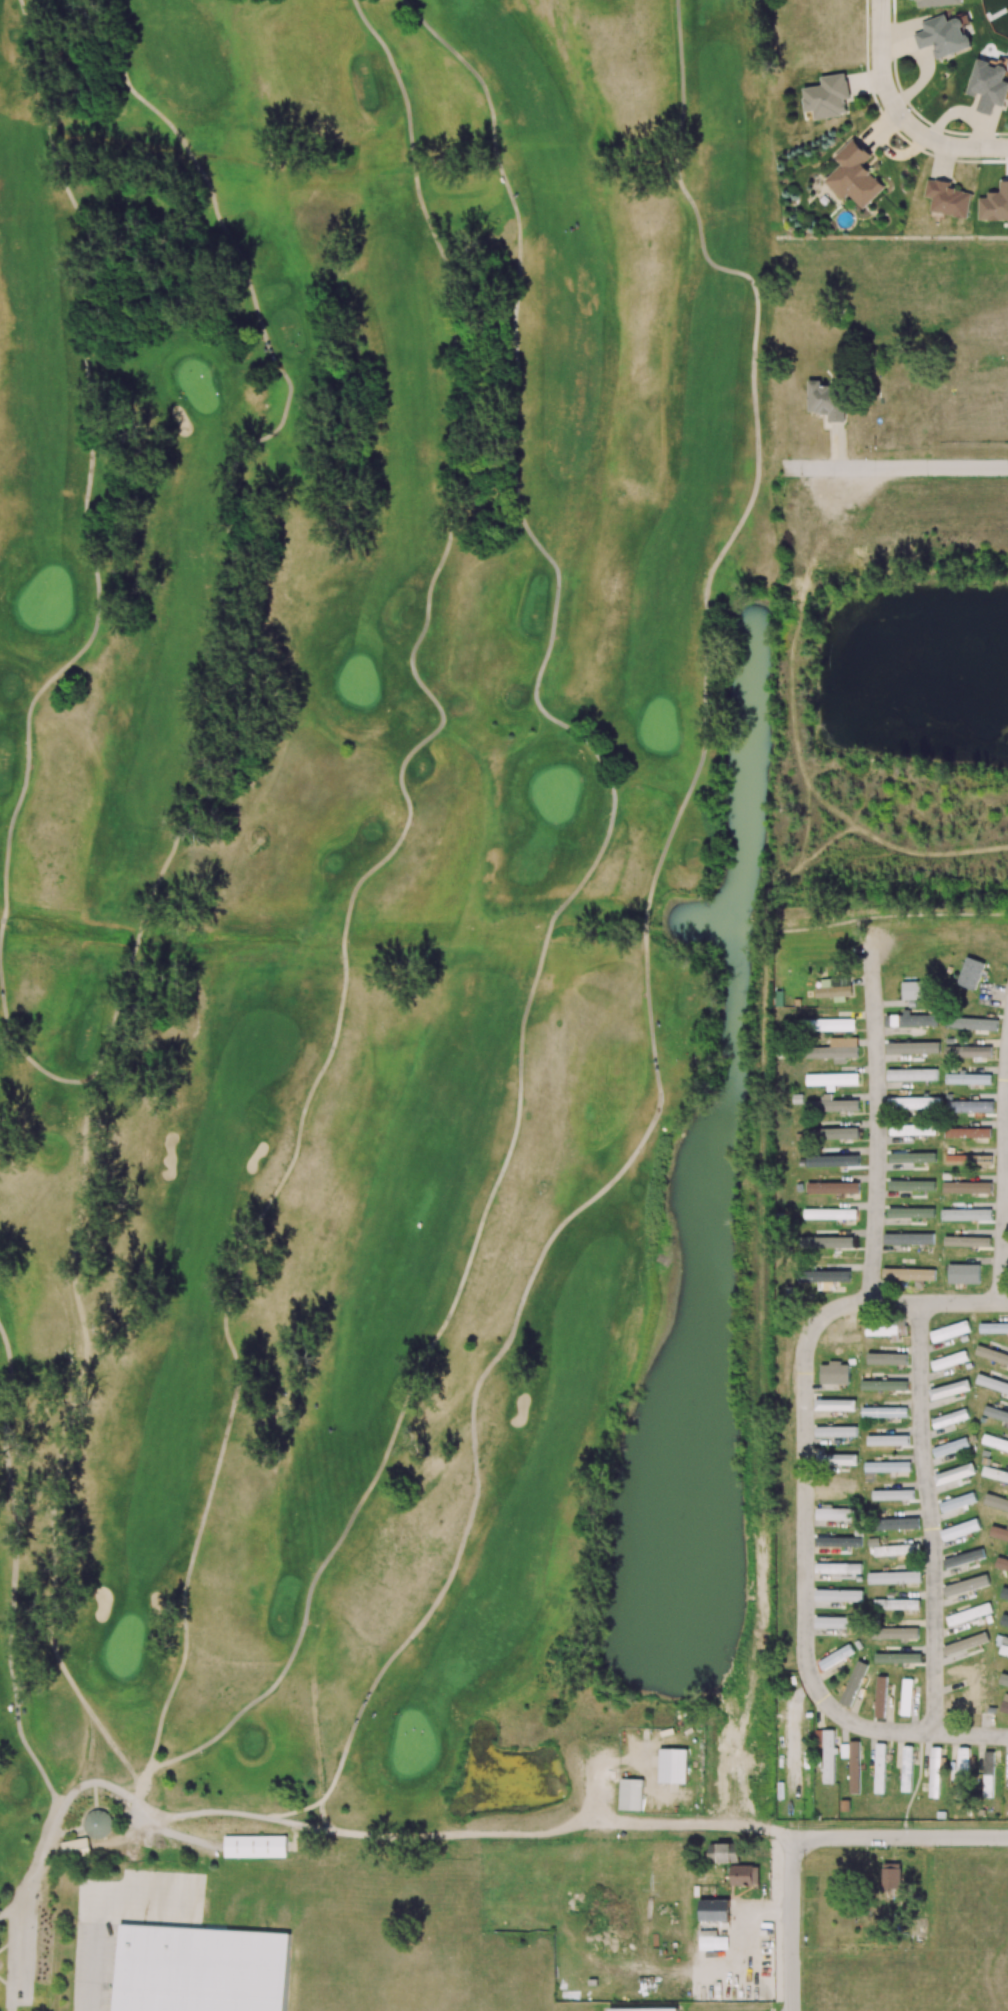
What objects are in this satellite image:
road: (900, 113)
road: (894, 467)
road: (89, 476)
road: (232, 590)
road: (704, 704)
road: (359, 881)
road: (565, 899)
park: (388, 931)
road: (878, 1135)
road: (1005, 1185)
road: (938, 1303)
road: (57, 1462)
road: (931, 1517)
road: (14, 1572)
road: (805, 1579)
road: (415, 1630)
road: (90, 1747)
building: (675, 1766)
building: (633, 1795)
road: (323, 1815)
building: (98, 1823)
road: (307, 1826)
road: (899, 1837)
building: (257, 1845)
building: (75, 1847)
road: (99, 1907)
road: (5, 1912)
road: (791, 1924)
road: (740, 1925)
building: (201, 1969)
building: (648, 2010)

